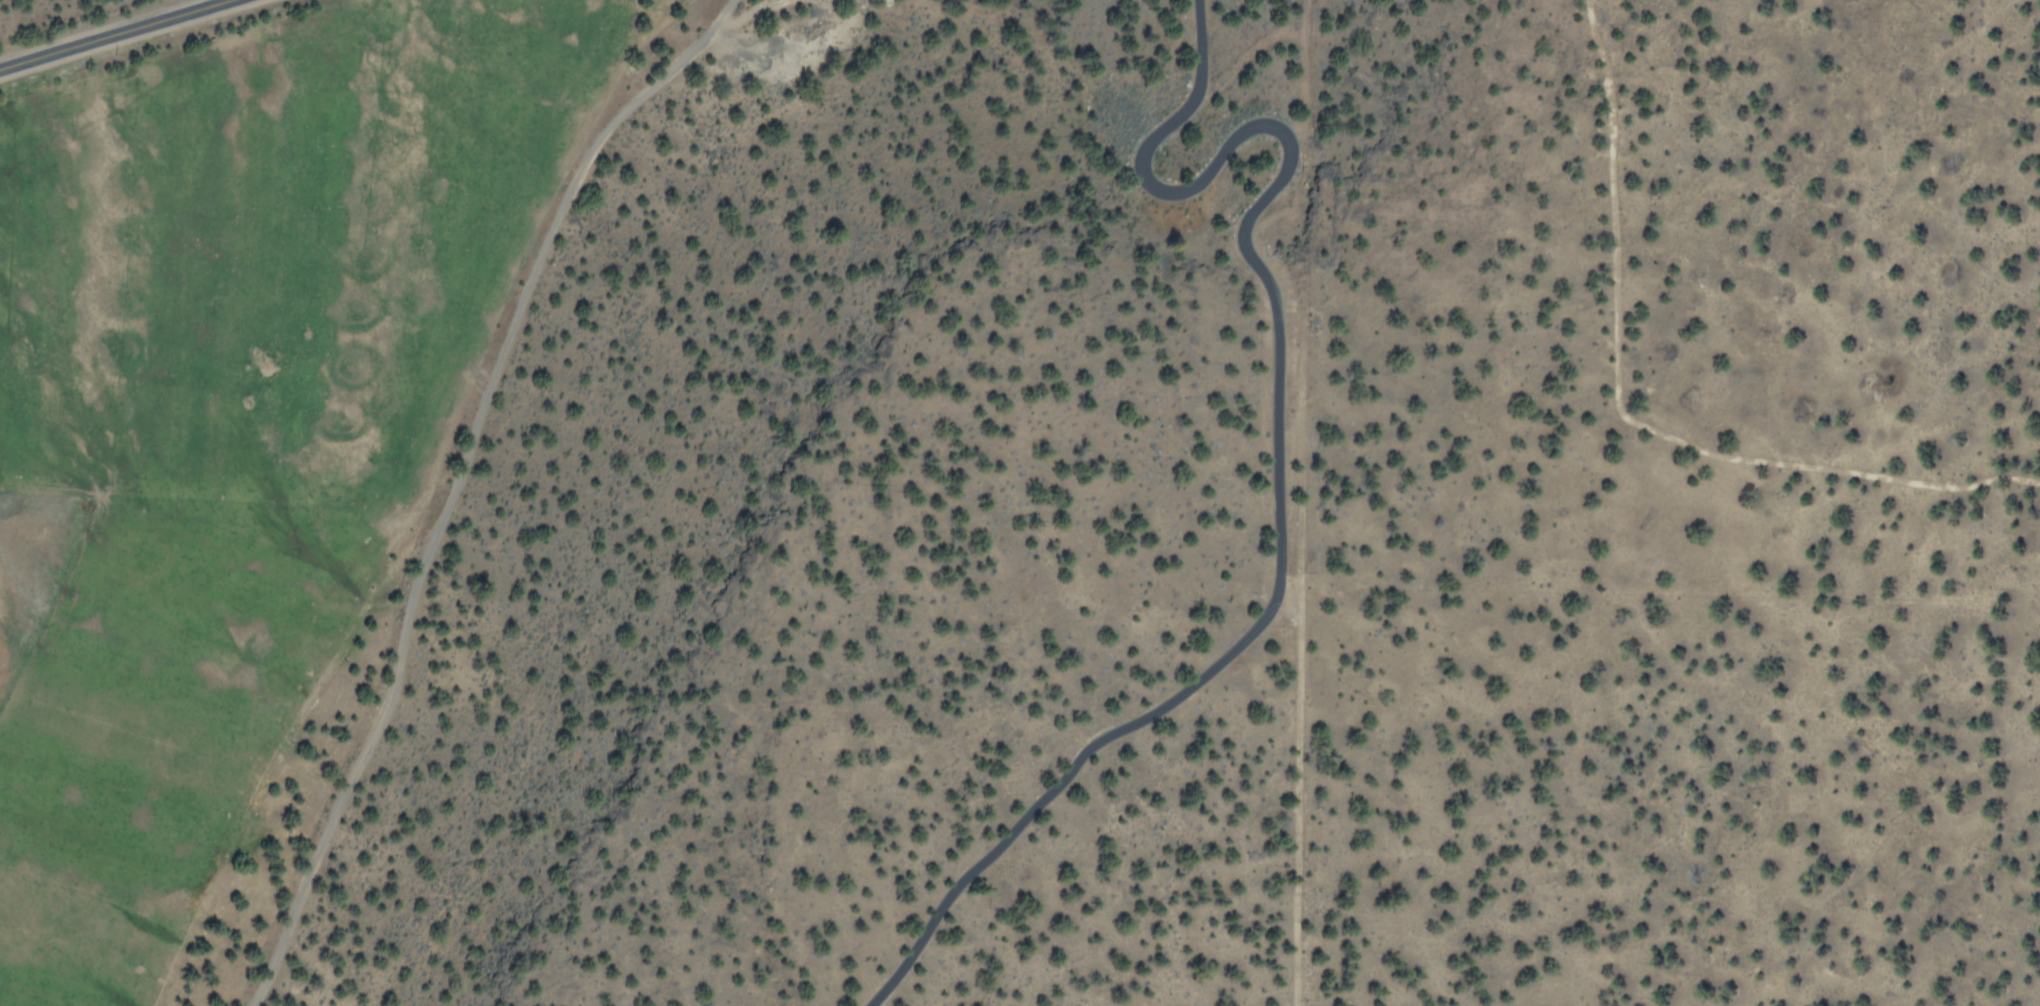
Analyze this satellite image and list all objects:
road: (121, 36)
crop: (216, 406)

